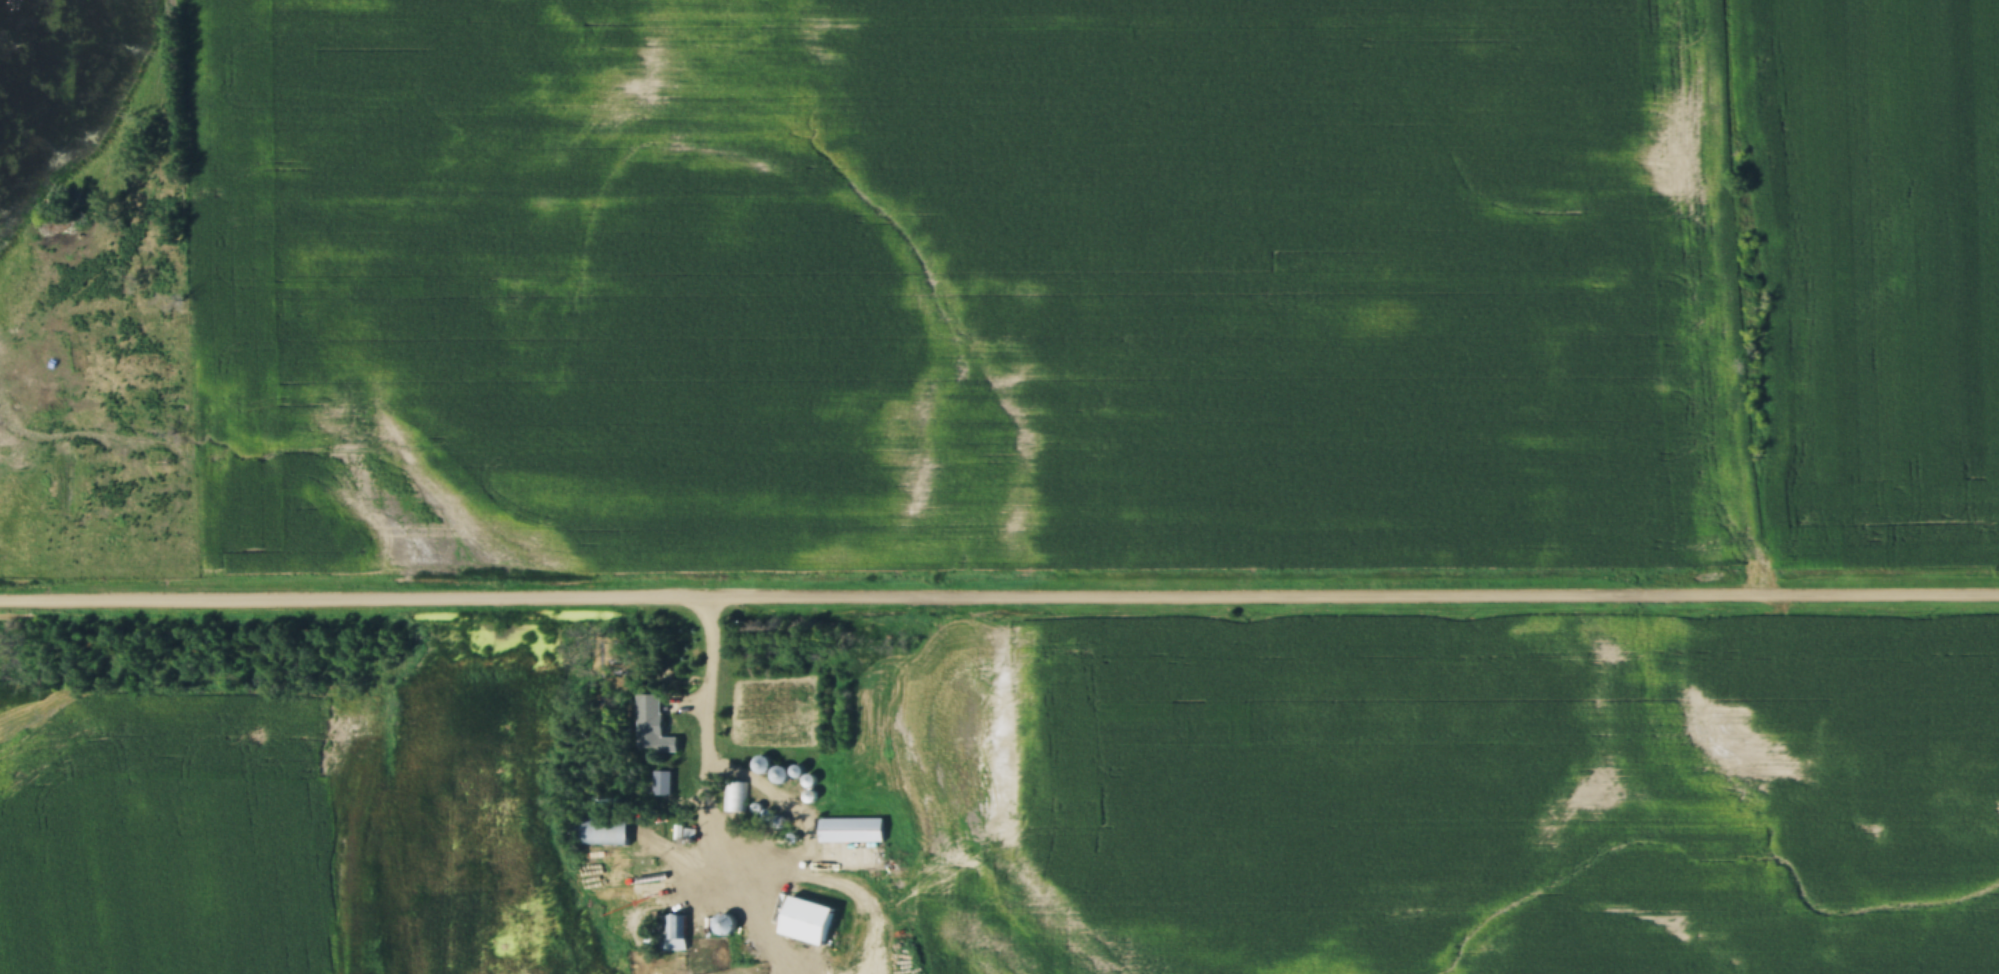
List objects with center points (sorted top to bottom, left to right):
road: (999, 592)
building: (654, 724)
road: (709, 742)
building: (735, 796)
building: (853, 829)
building: (604, 832)
building: (617, 864)
building: (809, 920)
building: (726, 923)
building: (672, 932)
building: (921, 943)

